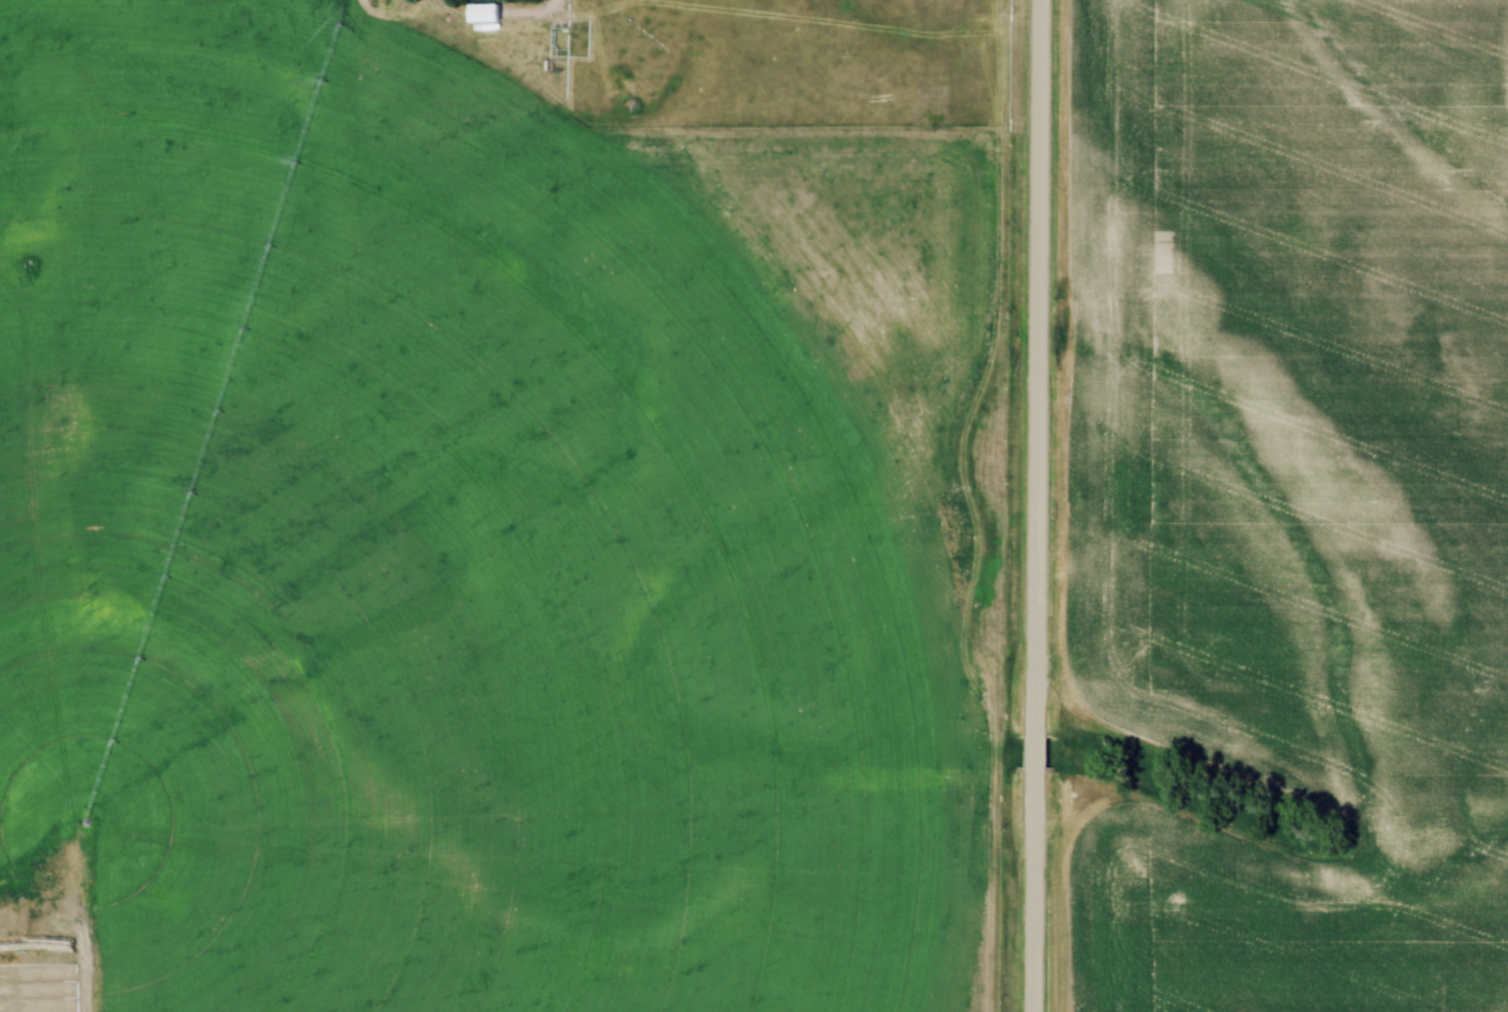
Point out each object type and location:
building: (485, 14)
road: (1033, 505)

